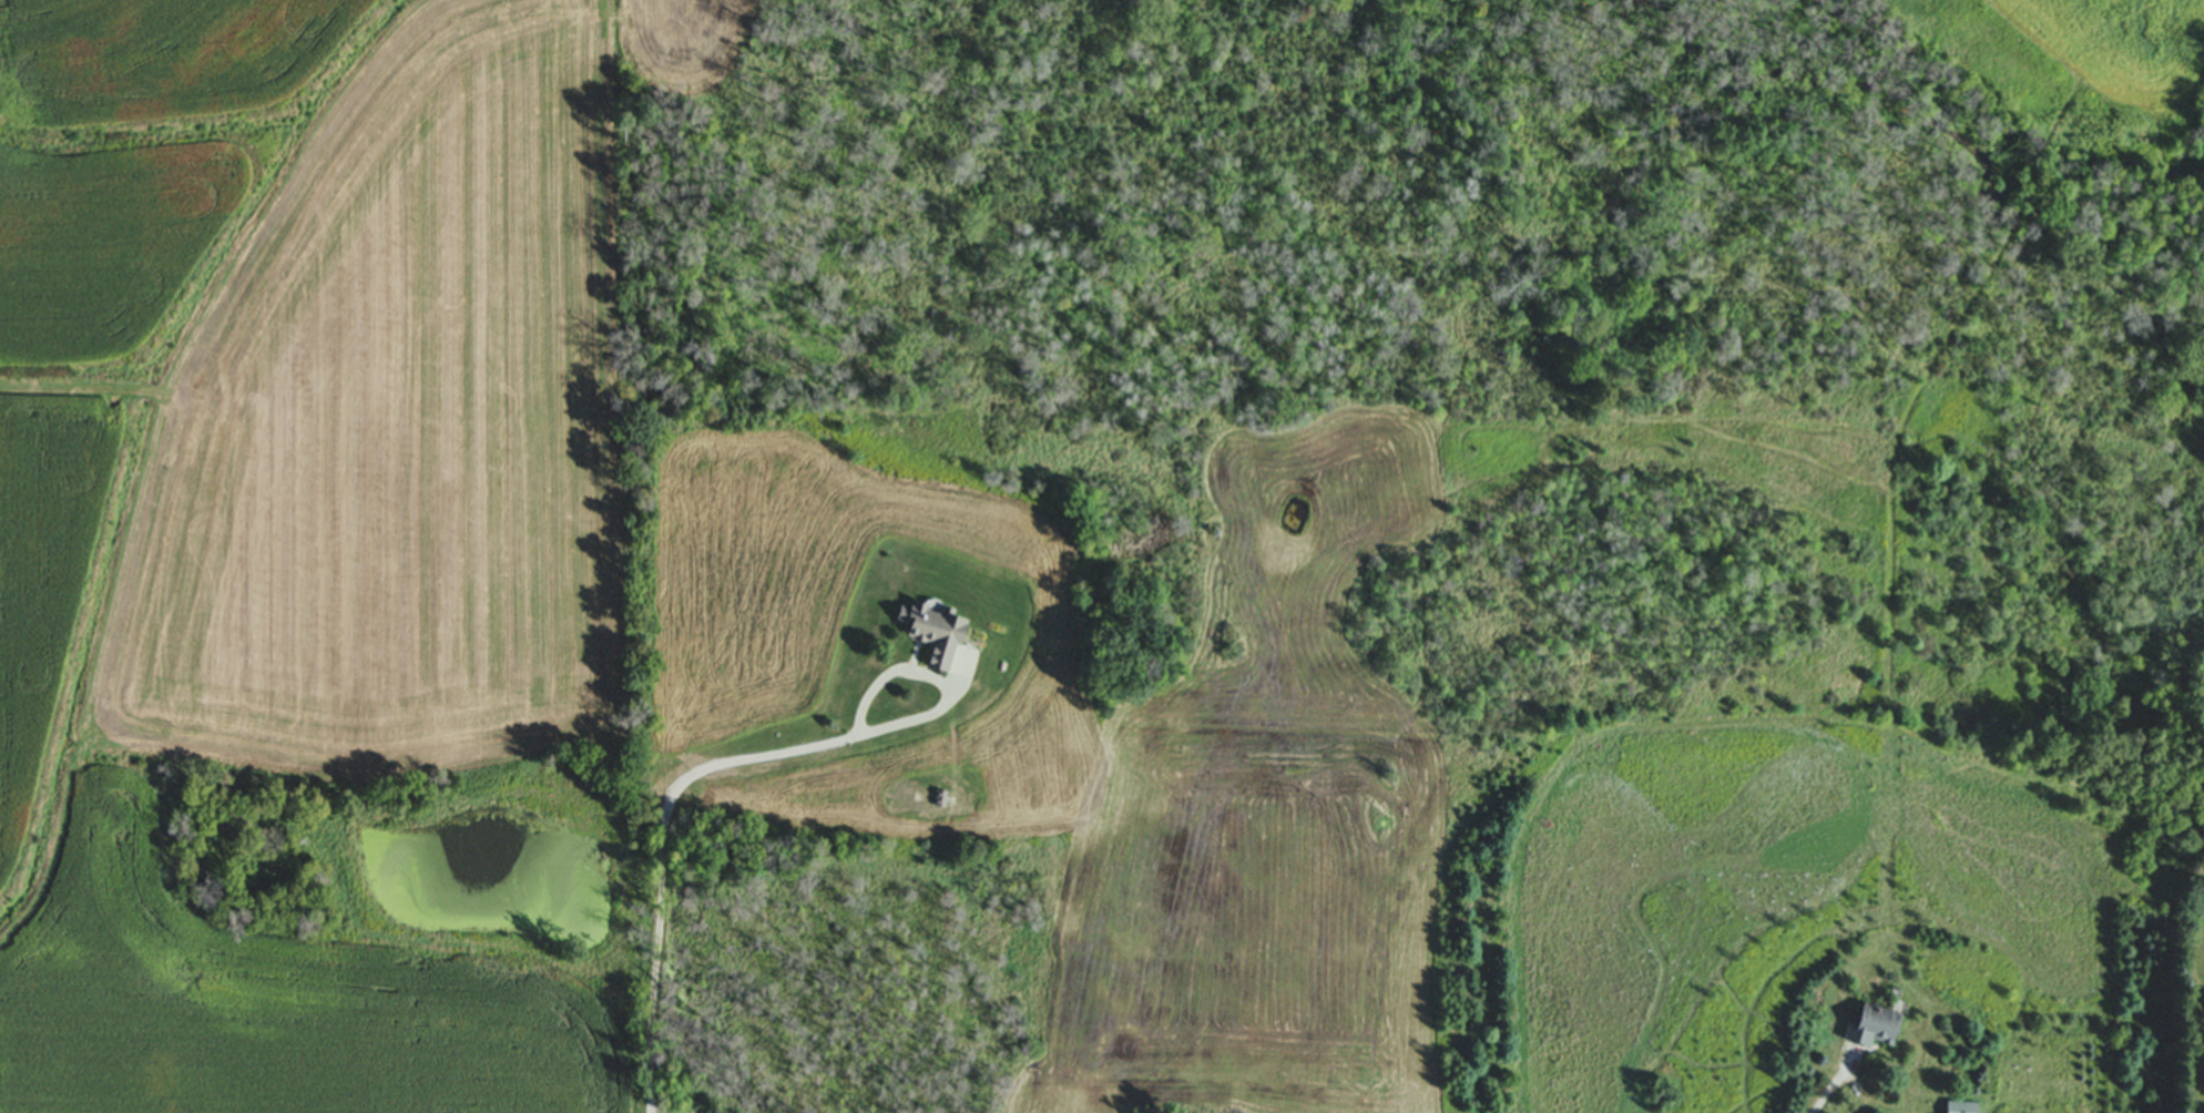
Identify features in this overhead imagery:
building: (928, 632)
road: (663, 827)
building: (2202, 998)
building: (1868, 1027)
road: (2058, 1060)
road: (1830, 1088)
building: (1957, 1106)

